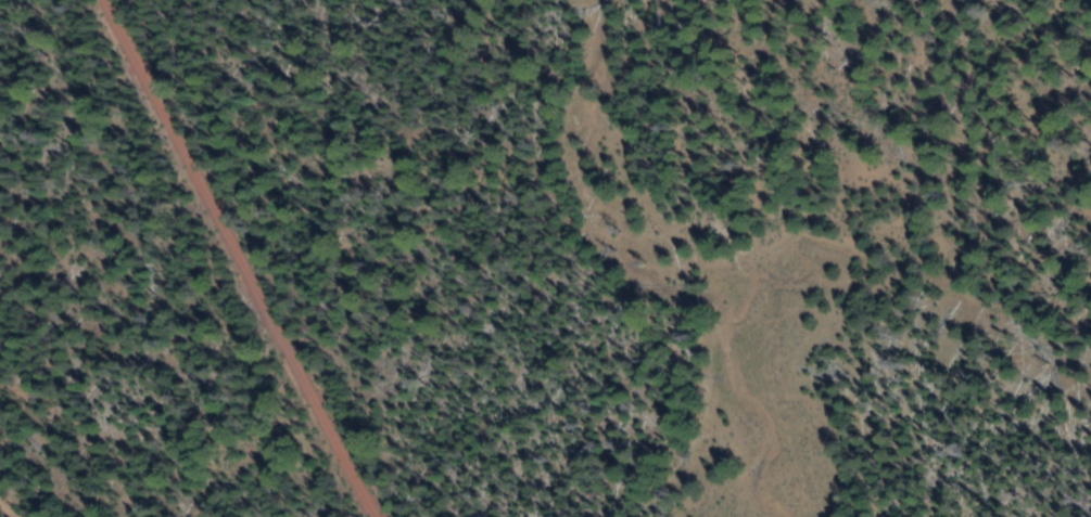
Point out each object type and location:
road: (8, 510)

